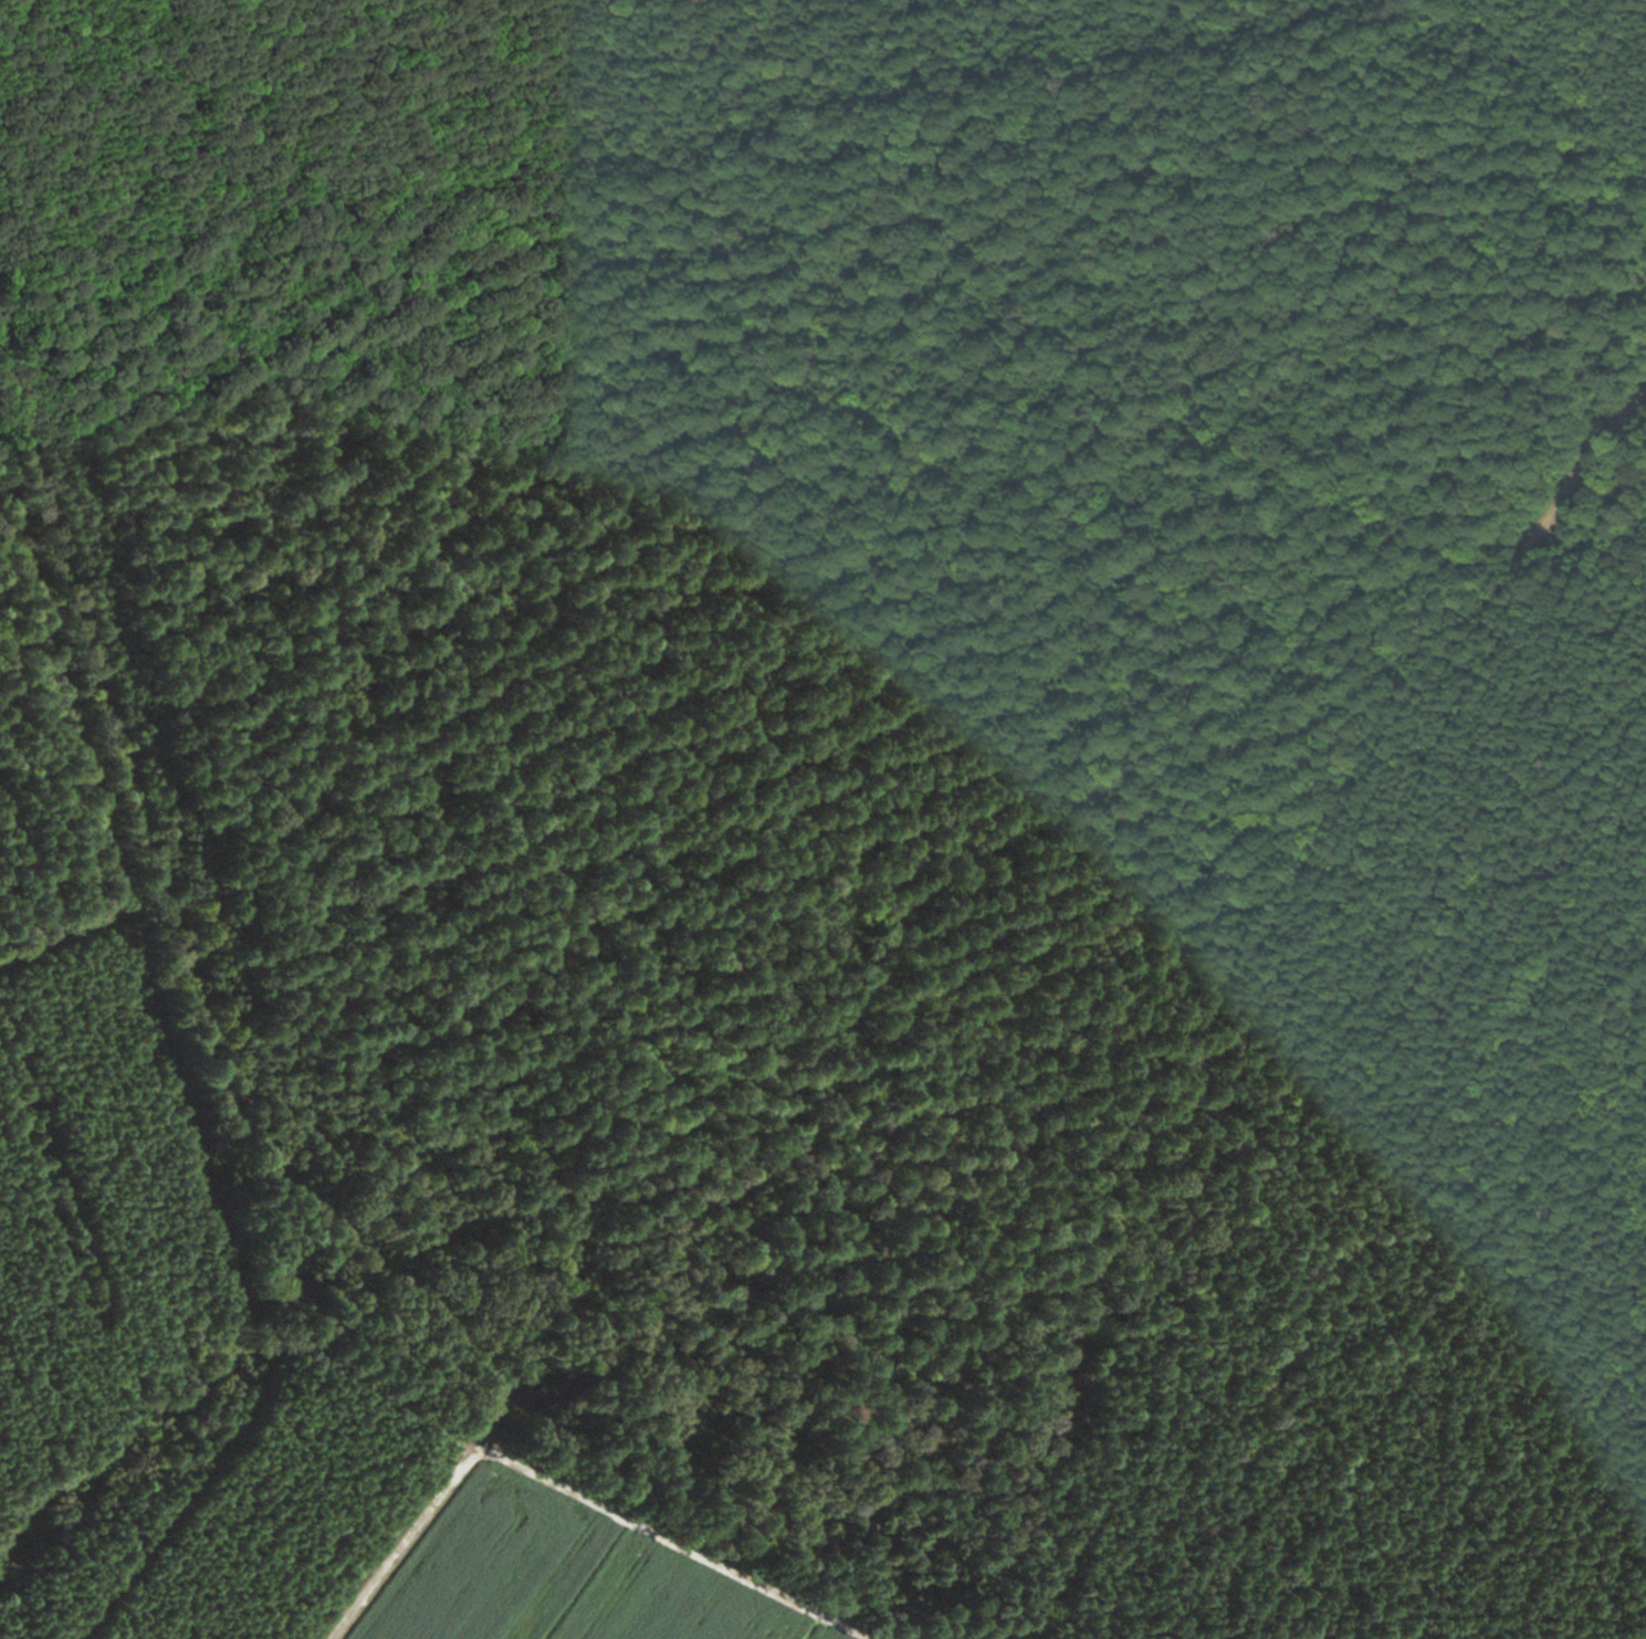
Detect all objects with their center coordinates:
road: (375, 1540)

